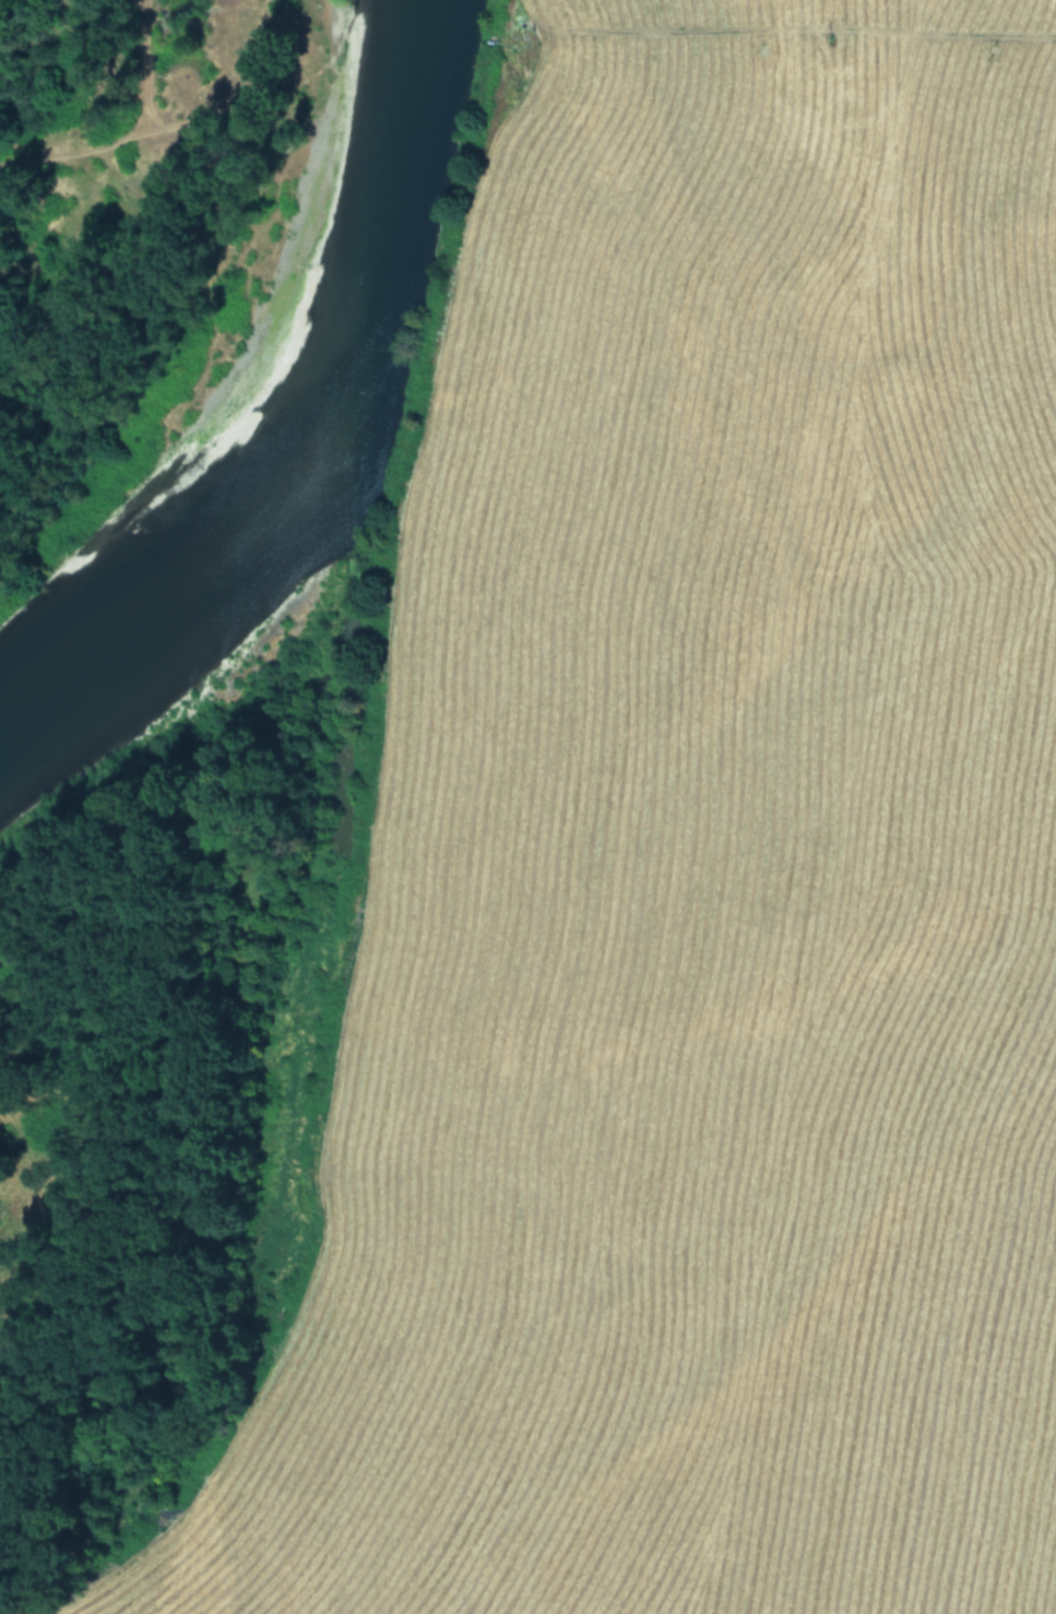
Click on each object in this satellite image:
road: (776, 377)
river: (280, 391)
crop: (669, 880)

